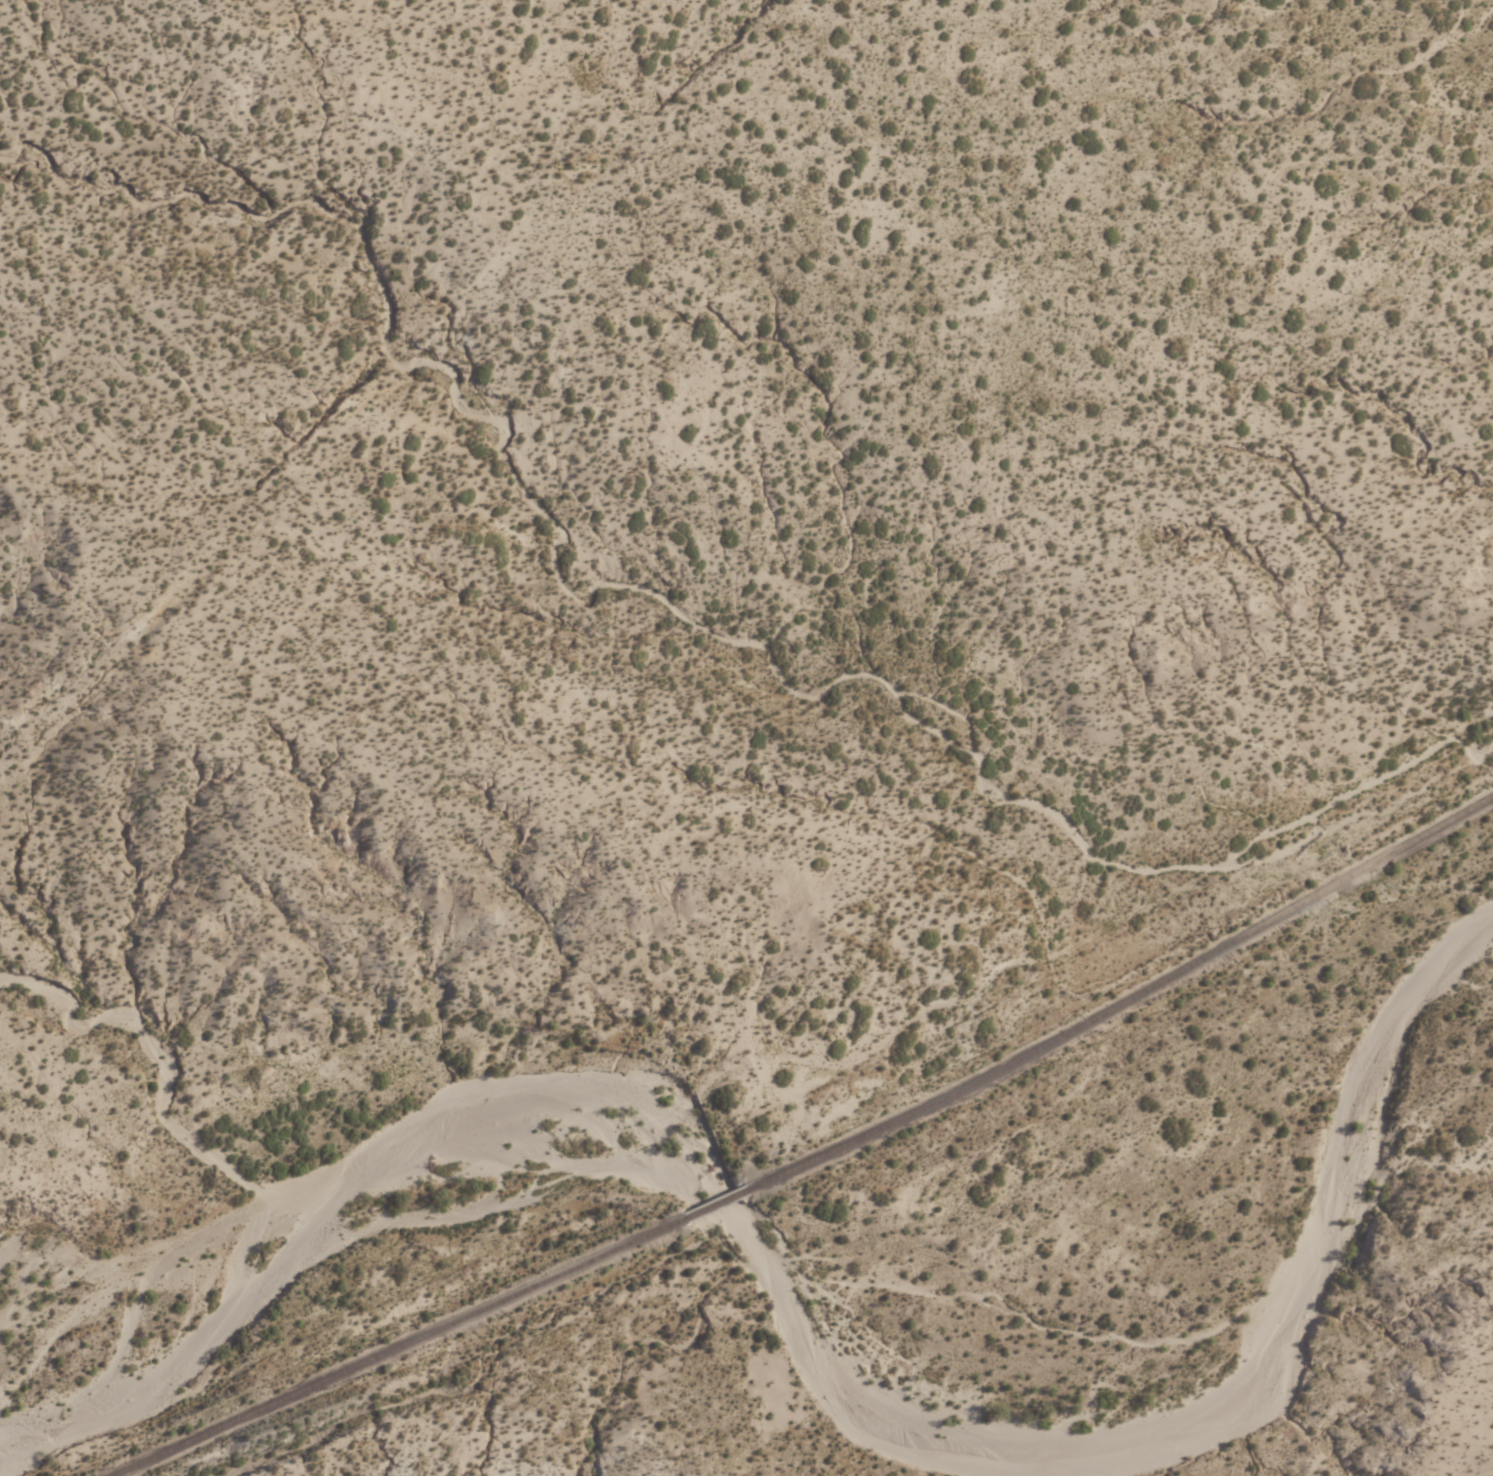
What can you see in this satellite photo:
railway: (1127, 997)
railway: (710, 1203)
river: (831, 1338)
railway: (388, 1349)

